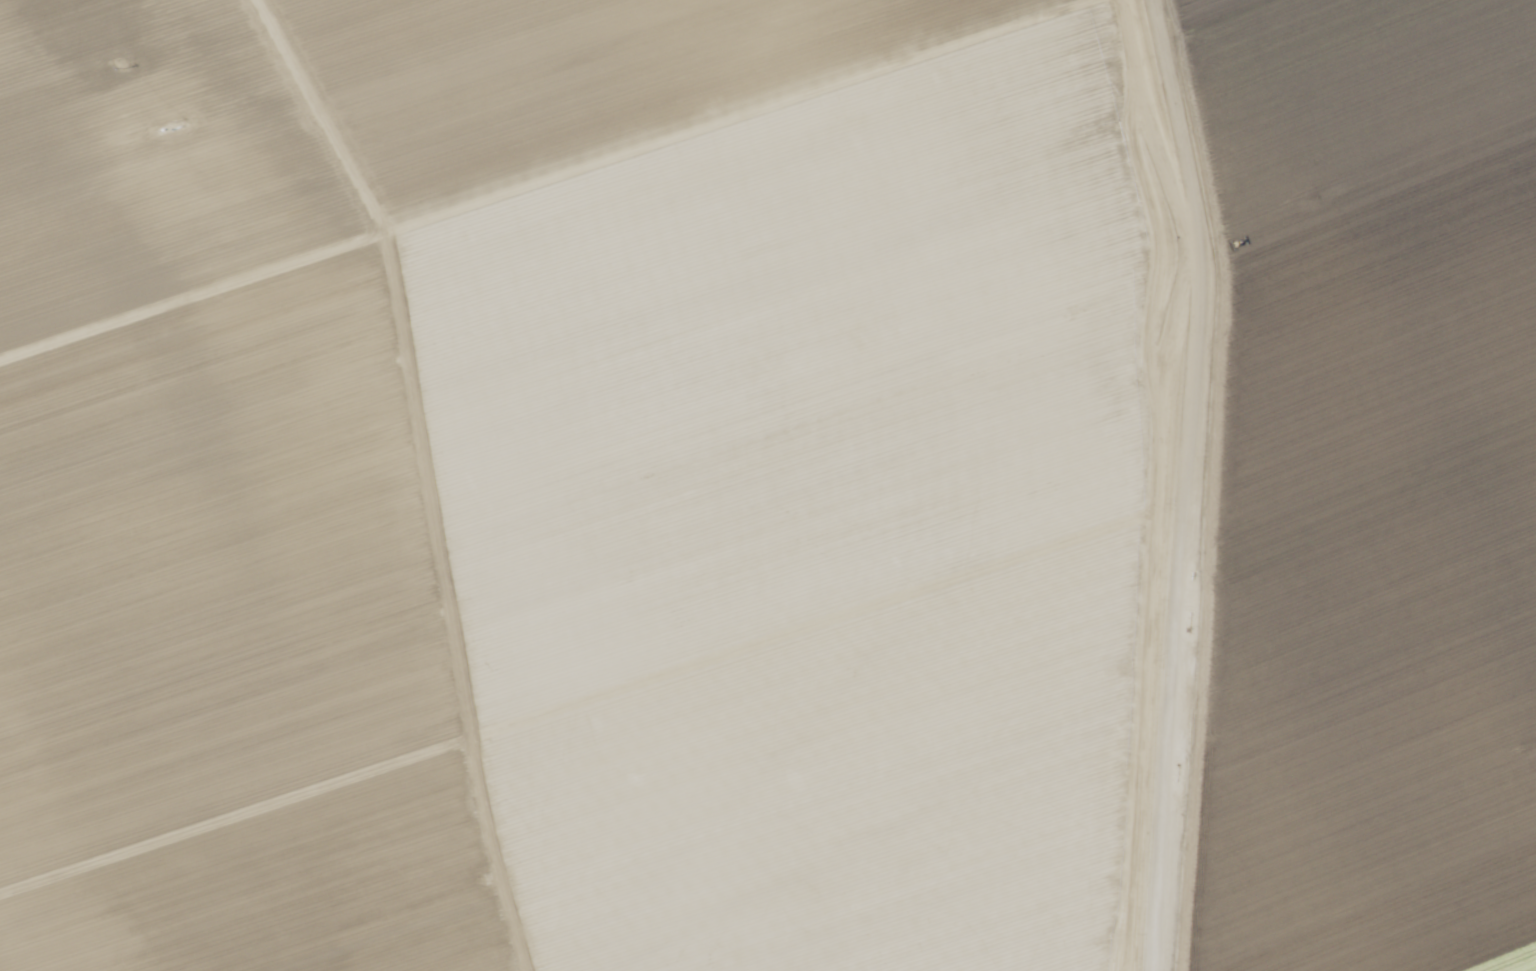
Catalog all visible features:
road: (84, 23)
road: (1174, 484)
crop: (768, 485)

